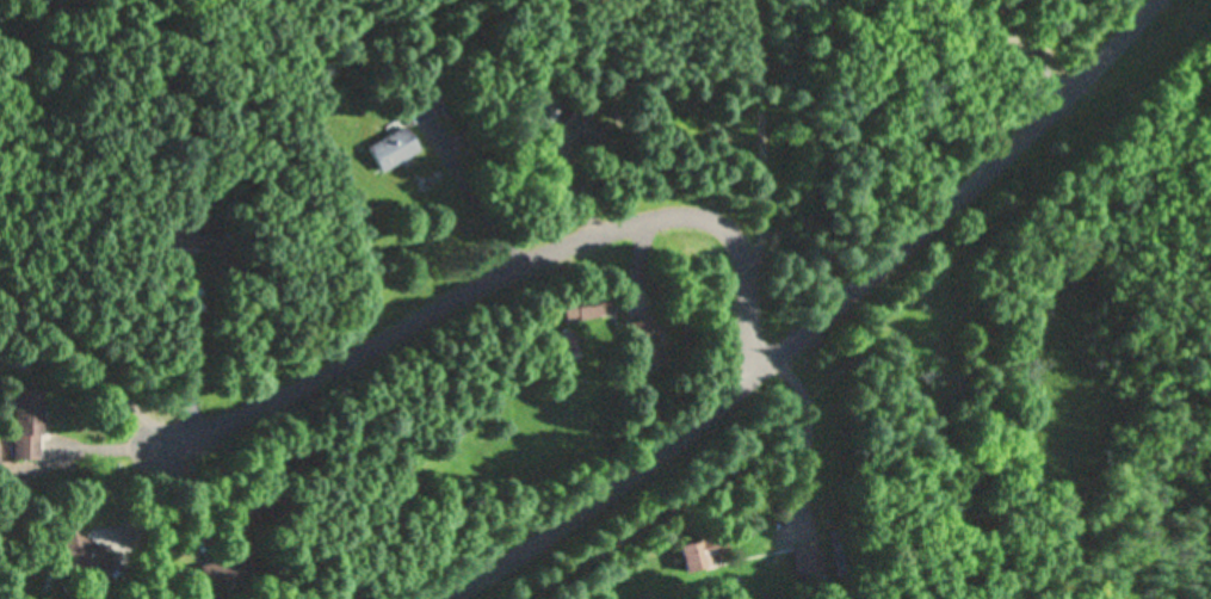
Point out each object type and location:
building: (424, 106)
building: (545, 109)
building: (585, 130)
building: (391, 150)
building: (175, 237)
building: (215, 246)
road: (518, 265)
road: (826, 325)
building: (643, 340)
building: (566, 347)
building: (27, 427)
building: (2, 455)
building: (700, 554)
building: (82, 555)
building: (218, 576)

